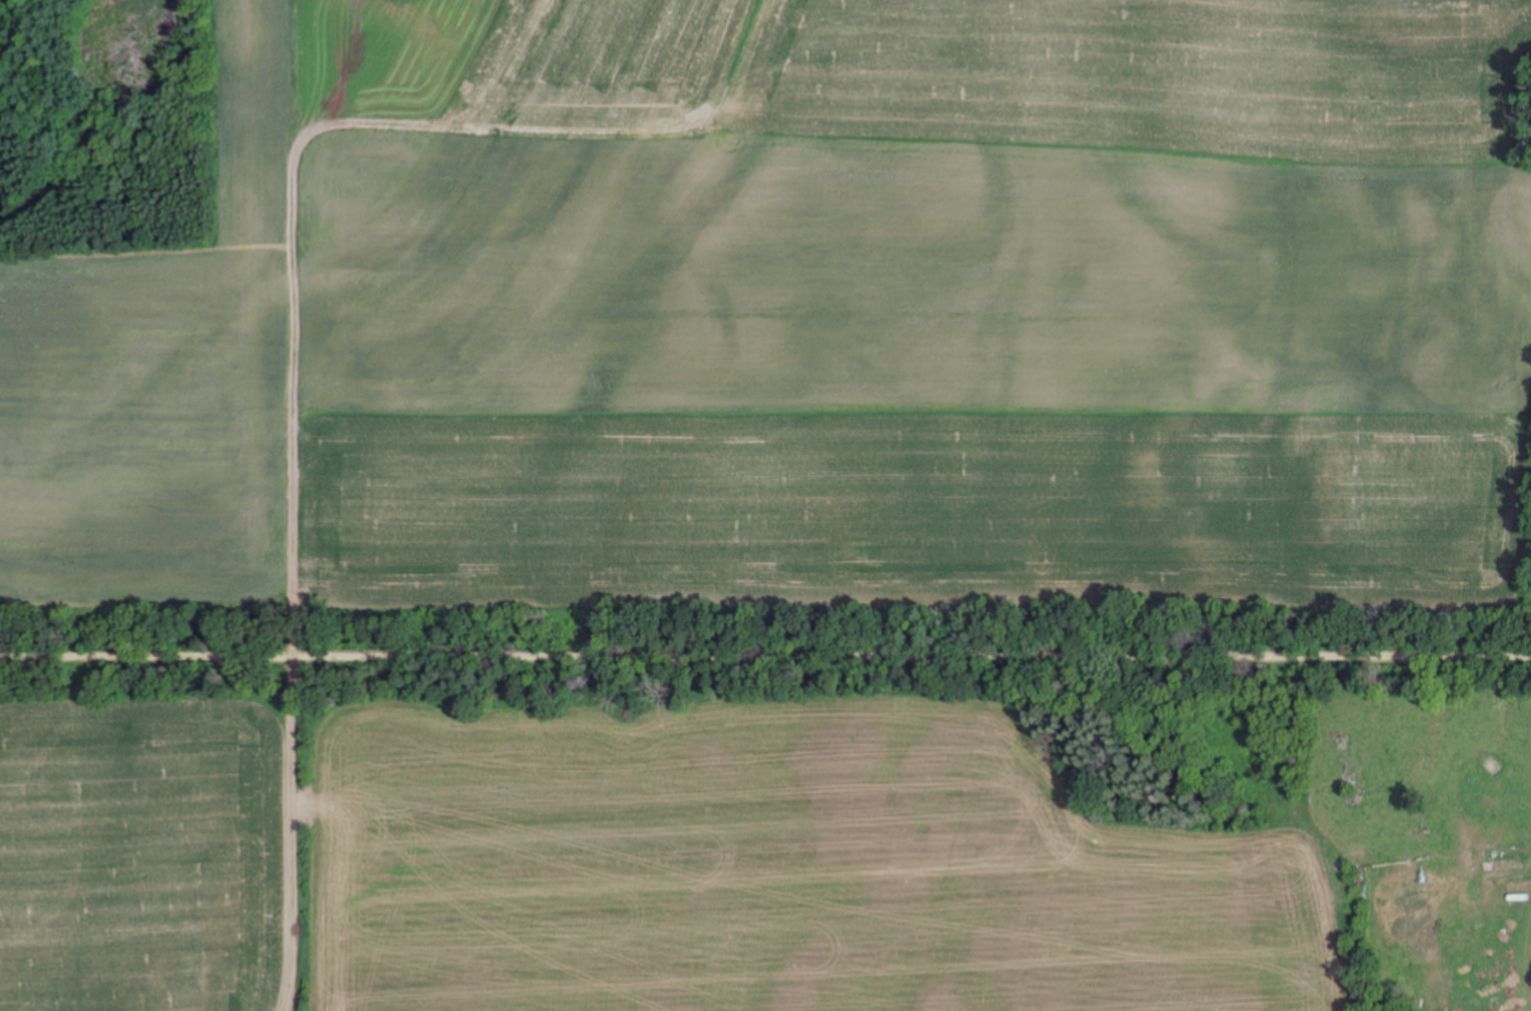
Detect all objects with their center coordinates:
road: (765, 656)

